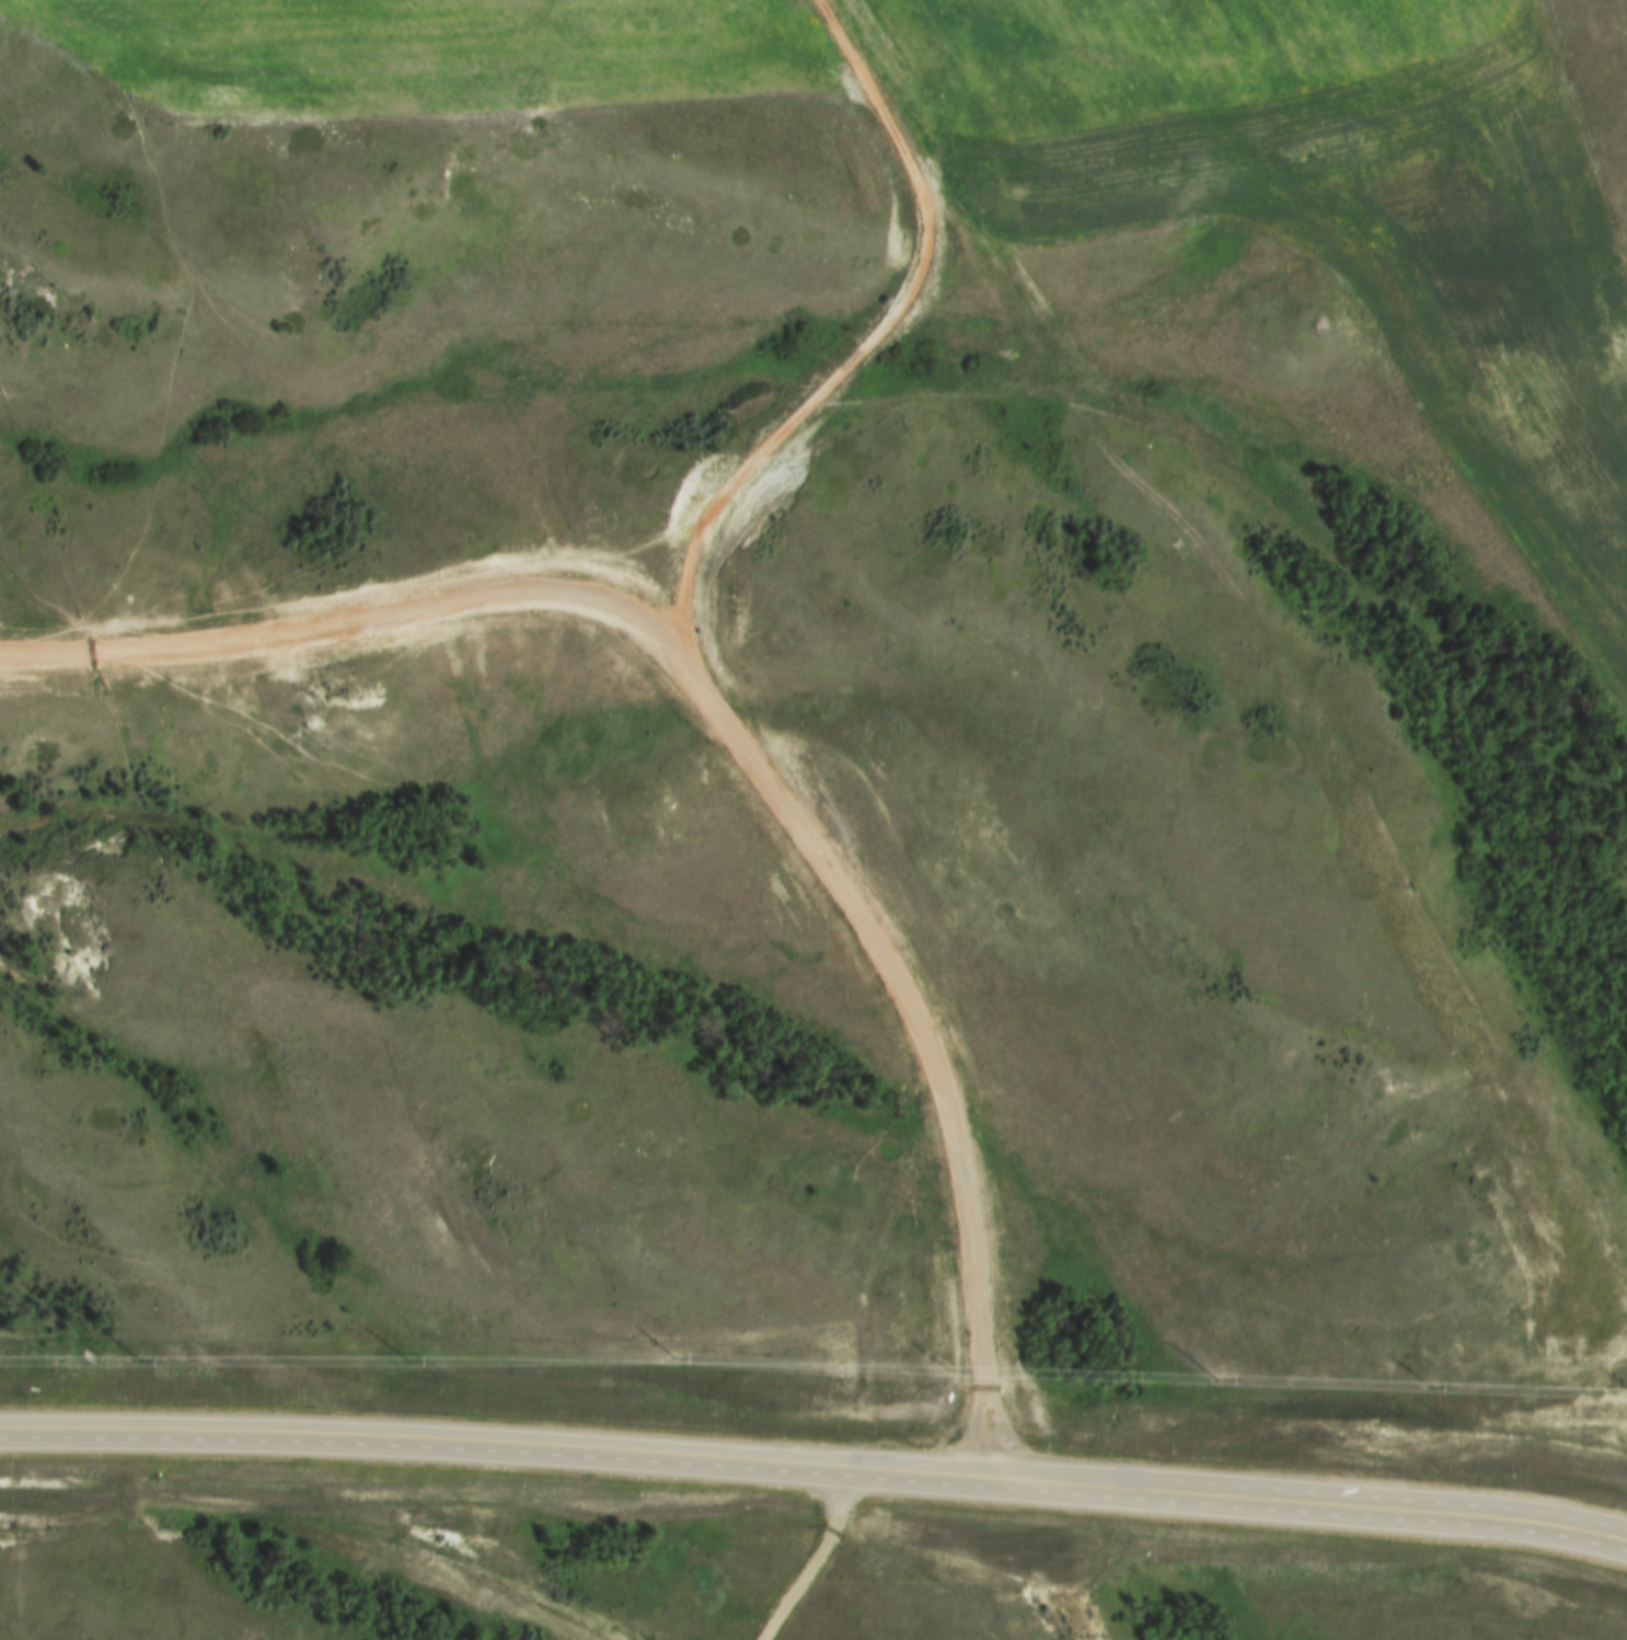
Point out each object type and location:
road: (875, 340)
road: (736, 730)
road: (815, 1470)
road: (815, 1561)
road: (498, 1595)

